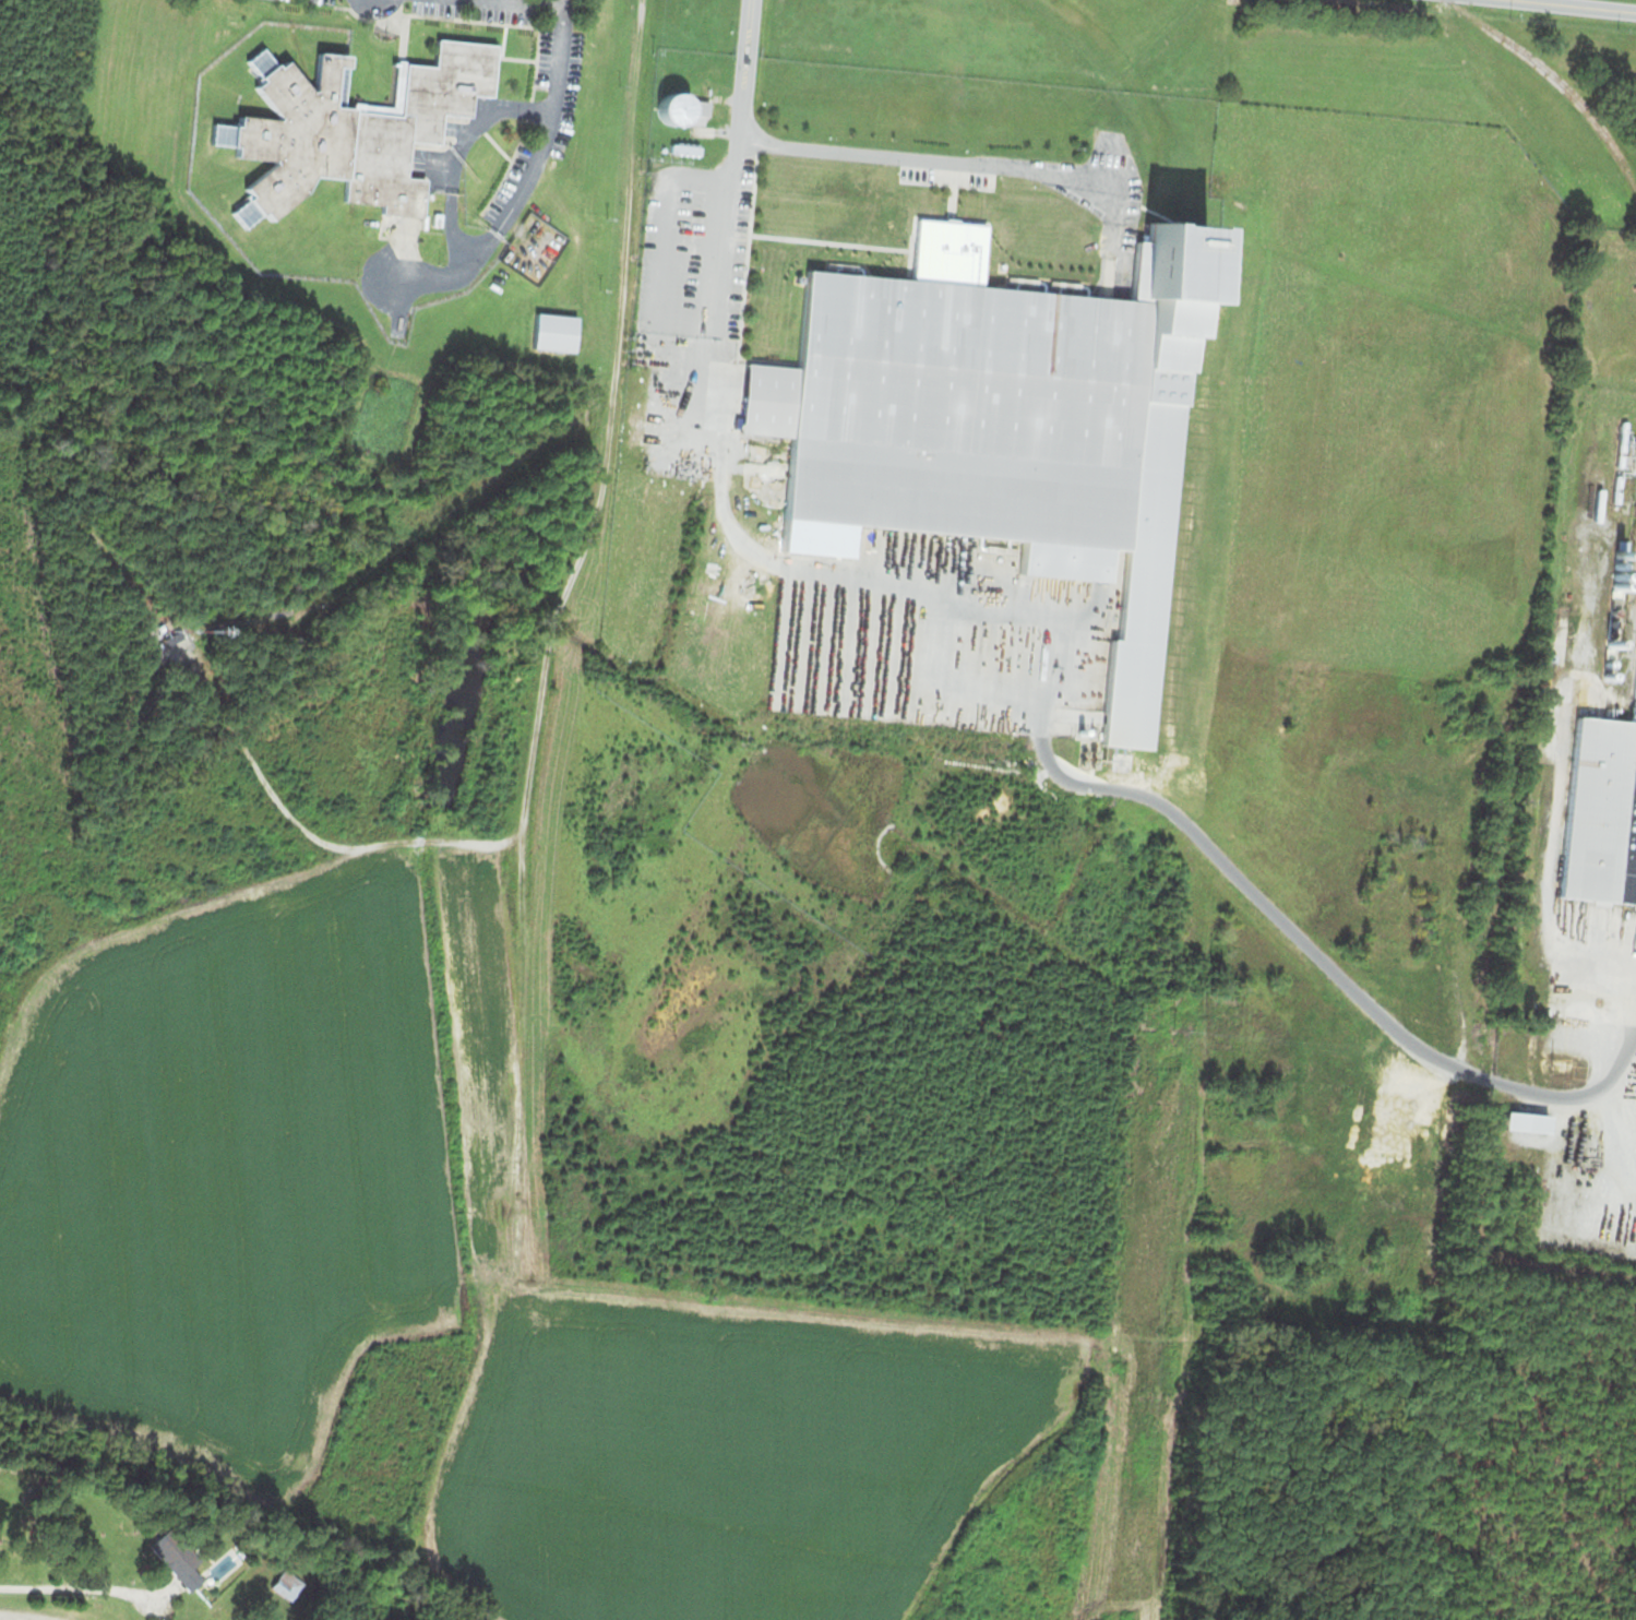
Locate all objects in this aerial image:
road: (516, 3)
road: (1577, 5)
railway: (1557, 81)
building: (662, 109)
building: (694, 110)
building: (343, 129)
road: (972, 158)
road: (726, 218)
railway: (1170, 251)
building: (548, 330)
building: (972, 407)
railway: (1625, 603)
railway: (1629, 647)
building: (987, 688)
building: (1599, 809)
road: (1162, 812)
road: (1552, 835)
building: (171, 1558)
building: (283, 1584)
road: (77, 1587)

